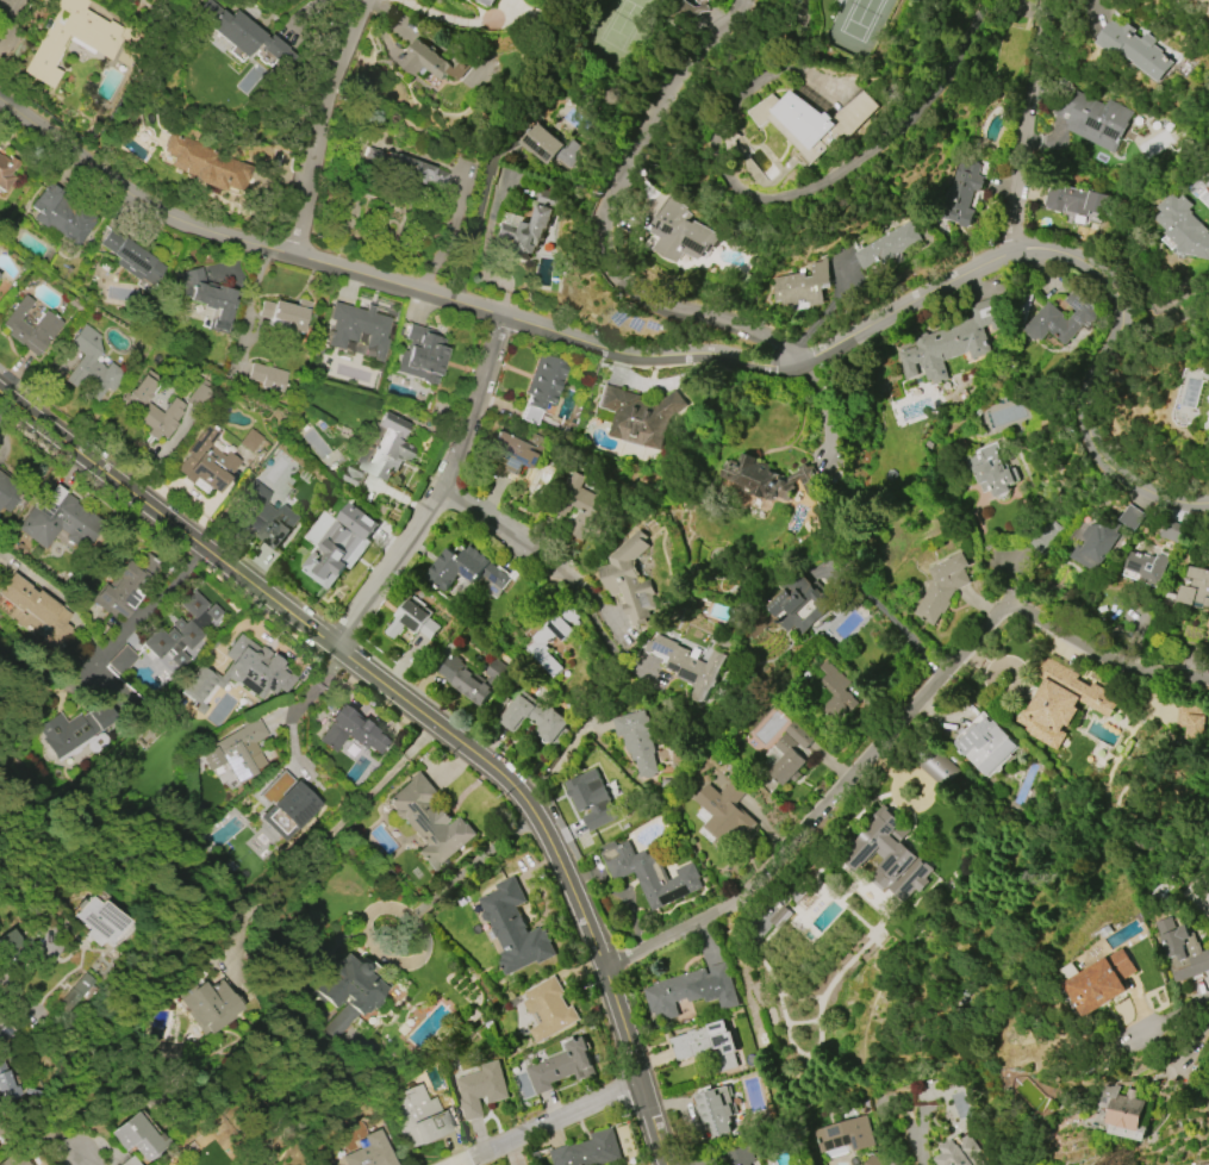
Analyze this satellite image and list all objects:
building: (487, 2)
building: (1204, 4)
road: (1093, 10)
building: (686, 14)
road: (986, 14)
road: (449, 18)
road: (13, 21)
building: (245, 35)
building: (1134, 48)
building: (48, 49)
building: (434, 62)
building: (1092, 119)
building: (815, 122)
road: (1021, 123)
road: (316, 124)
building: (546, 145)
building: (206, 163)
building: (400, 167)
building: (6, 172)
road: (825, 186)
building: (960, 193)
building: (1074, 200)
building: (61, 214)
building: (530, 224)
road: (602, 224)
building: (1184, 226)
road: (475, 229)
building: (680, 233)
building: (889, 245)
building: (131, 257)
building: (802, 286)
building: (211, 297)
road: (250, 310)
building: (286, 313)
building: (1062, 318)
building: (29, 326)
building: (357, 331)
building: (954, 339)
building: (422, 355)
road: (702, 357)
building: (91, 367)
building: (267, 376)
building: (541, 387)
building: (199, 394)
building: (150, 407)
building: (638, 417)
building: (250, 441)
building: (380, 451)
building: (512, 456)
building: (206, 462)
building: (990, 471)
building: (767, 479)
building: (8, 493)
road: (440, 496)
building: (578, 498)
building: (263, 517)
building: (1132, 517)
building: (58, 519)
road: (481, 522)
building: (1172, 531)
building: (341, 546)
building: (1095, 546)
building: (1146, 567)
building: (467, 568)
road: (585, 580)
building: (629, 580)
building: (943, 586)
building: (124, 587)
building: (1195, 587)
road: (156, 600)
road: (268, 602)
building: (798, 606)
road: (880, 606)
building: (36, 613)
building: (412, 622)
building: (177, 634)
building: (554, 637)
building: (120, 660)
building: (686, 665)
building: (256, 668)
building: (470, 675)
building: (199, 684)
building: (836, 693)
building: (1060, 702)
road: (294, 712)
building: (531, 718)
building: (1192, 721)
road: (897, 724)
building: (350, 730)
building: (75, 733)
building: (799, 735)
building: (637, 741)
building: (986, 746)
building: (233, 750)
building: (787, 761)
road: (833, 766)
building: (936, 766)
building: (591, 797)
building: (295, 804)
building: (724, 811)
building: (429, 822)
road: (329, 834)
building: (886, 853)
road: (474, 864)
building: (650, 874)
building: (780, 918)
building: (101, 922)
building: (513, 928)
building: (1180, 953)
building: (1096, 982)
road: (27, 984)
road: (611, 985)
building: (351, 989)
building: (691, 991)
building: (76, 992)
building: (211, 998)
building: (548, 1010)
road: (1169, 1015)
road: (1197, 1035)
building: (705, 1046)
building: (562, 1066)
building: (6, 1084)
building: (484, 1088)
building: (718, 1110)
building: (1122, 1113)
building: (418, 1117)
road: (549, 1123)
building: (845, 1135)
building: (141, 1136)
road: (914, 1140)
building: (590, 1151)
building: (370, 1152)
building: (958, 1152)
building: (739, 1154)
building: (13, 1159)
building: (874, 1160)
road: (91, 1161)
building: (180, 1164)

